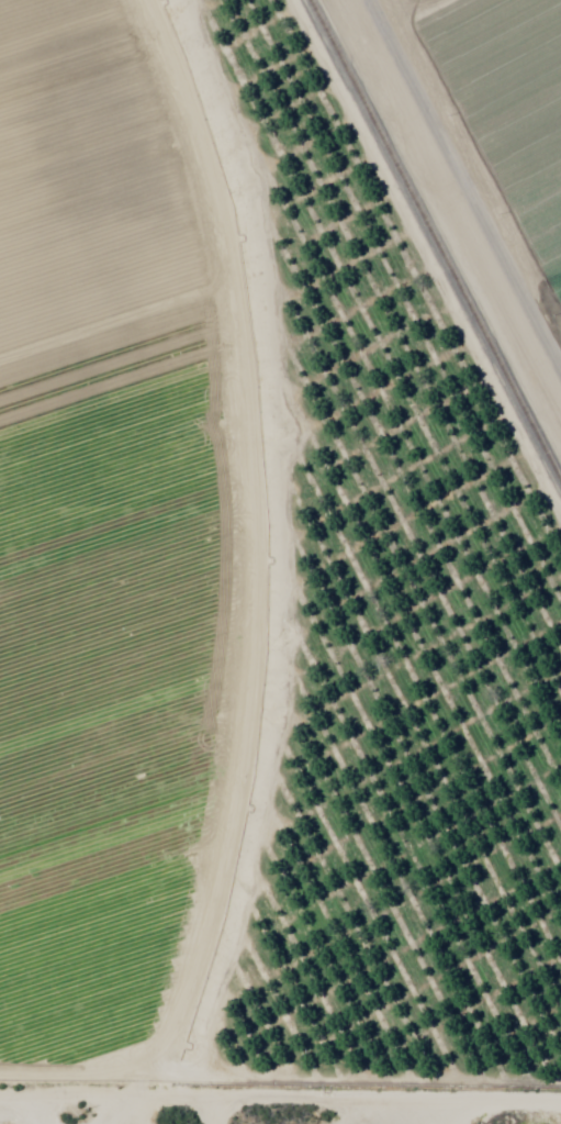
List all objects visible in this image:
crop: (506, 105)
road: (472, 173)
railway: (434, 244)
crop: (127, 532)
road: (280, 1105)
road: (137, 1114)
road: (375, 1114)

